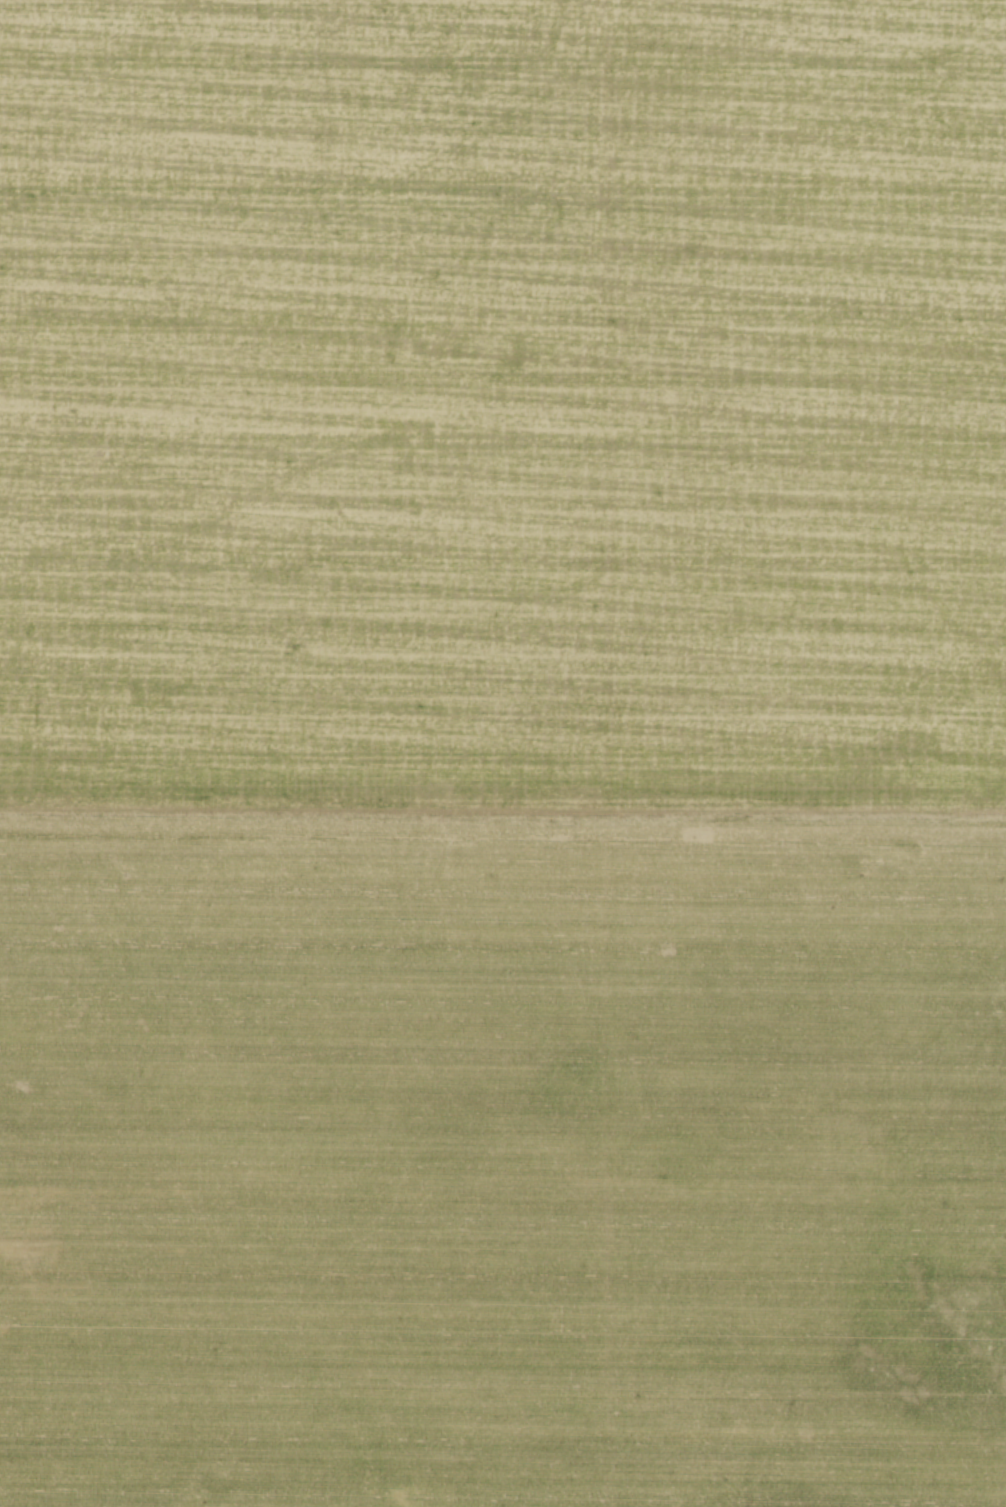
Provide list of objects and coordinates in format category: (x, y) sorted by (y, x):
crop: (503, 753)

